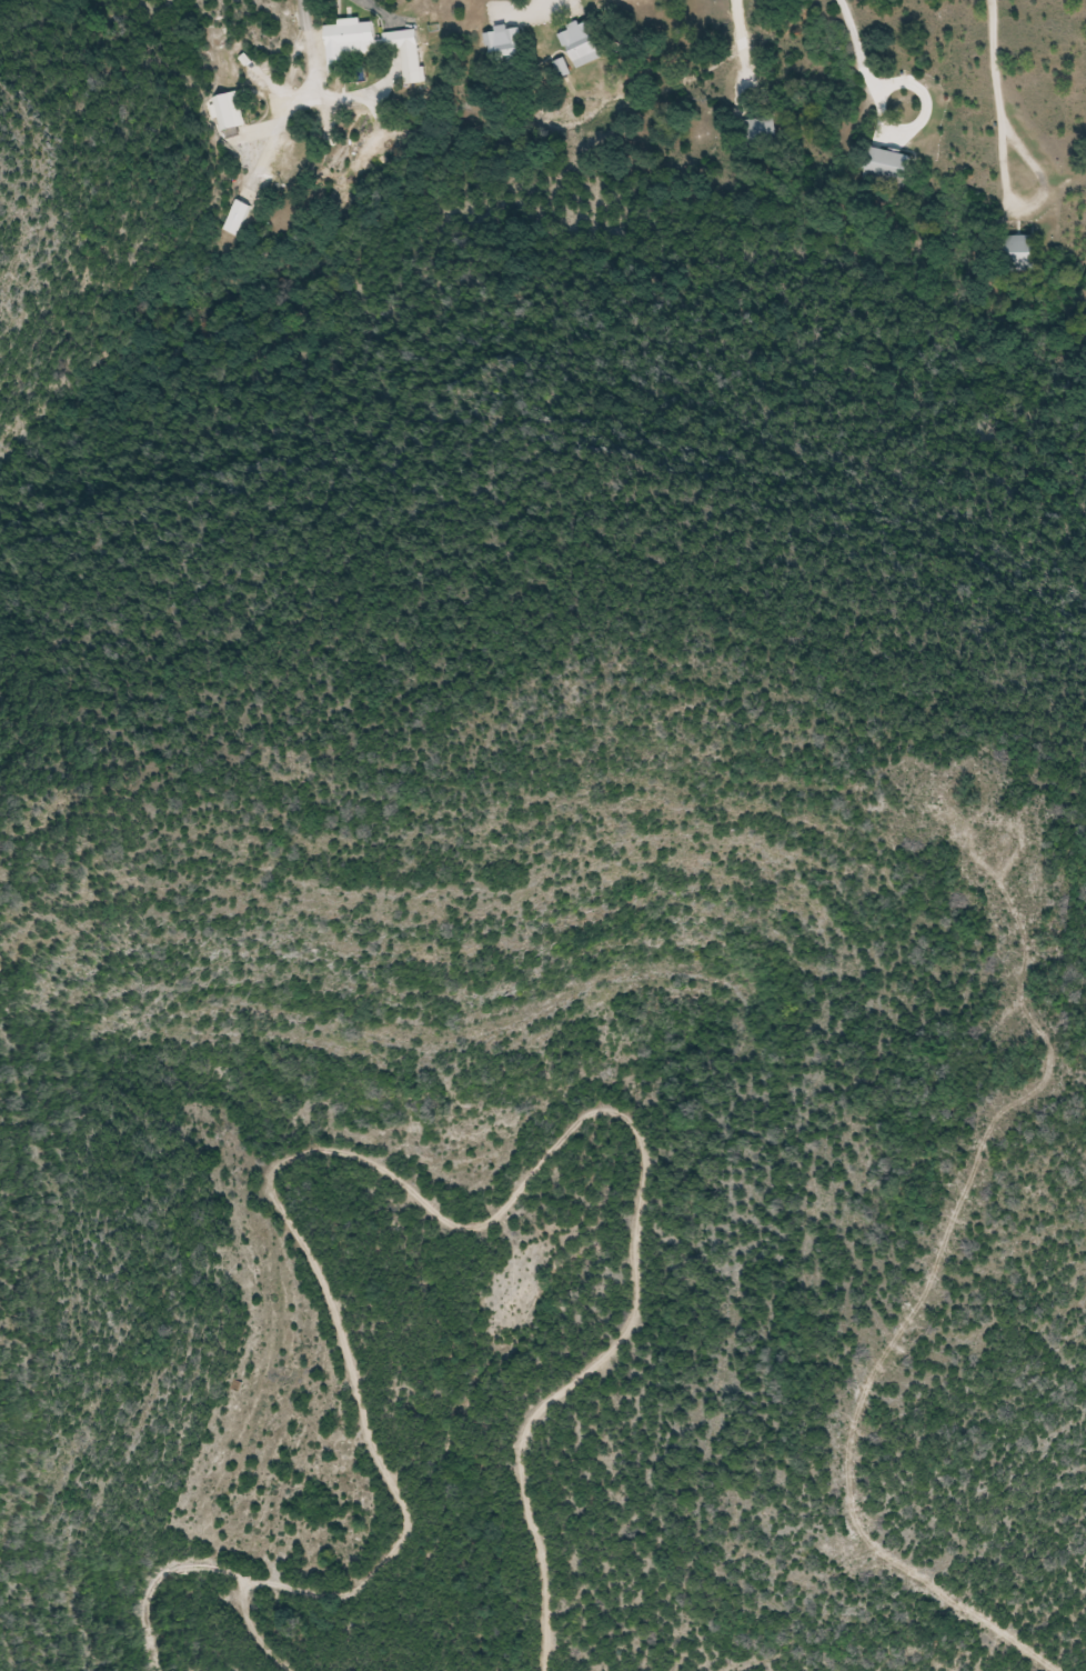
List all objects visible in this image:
building: (366, 42)
building: (585, 48)
building: (507, 51)
road: (738, 51)
road: (863, 69)
road: (302, 99)
road: (996, 102)
building: (229, 112)
building: (888, 164)
building: (238, 218)
building: (1022, 251)

